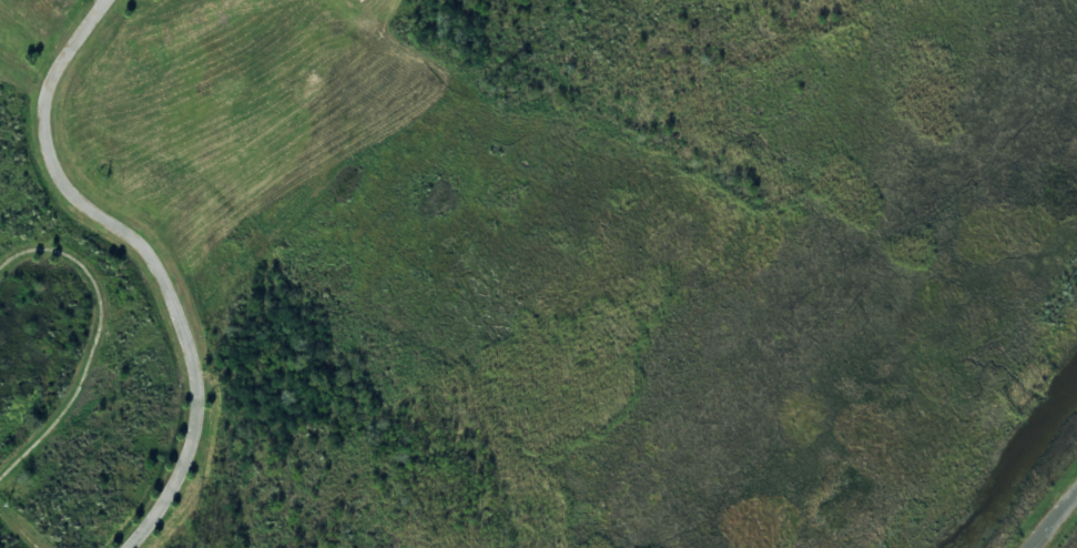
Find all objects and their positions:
building: (360, 0)
road: (1054, 519)

